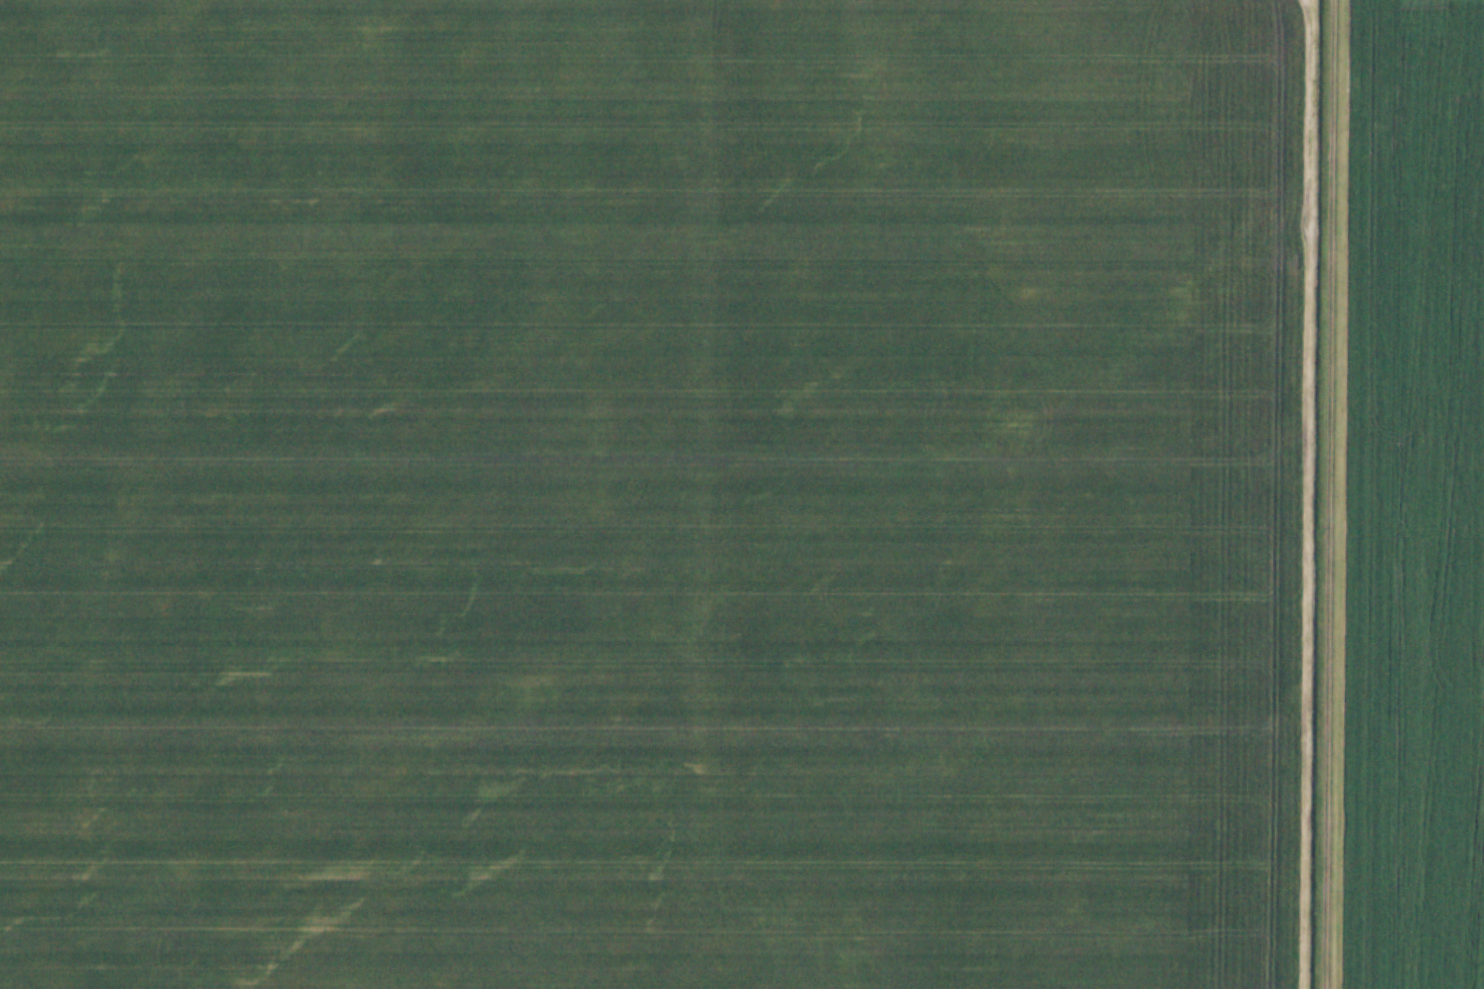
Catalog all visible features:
road: (1323, 494)

